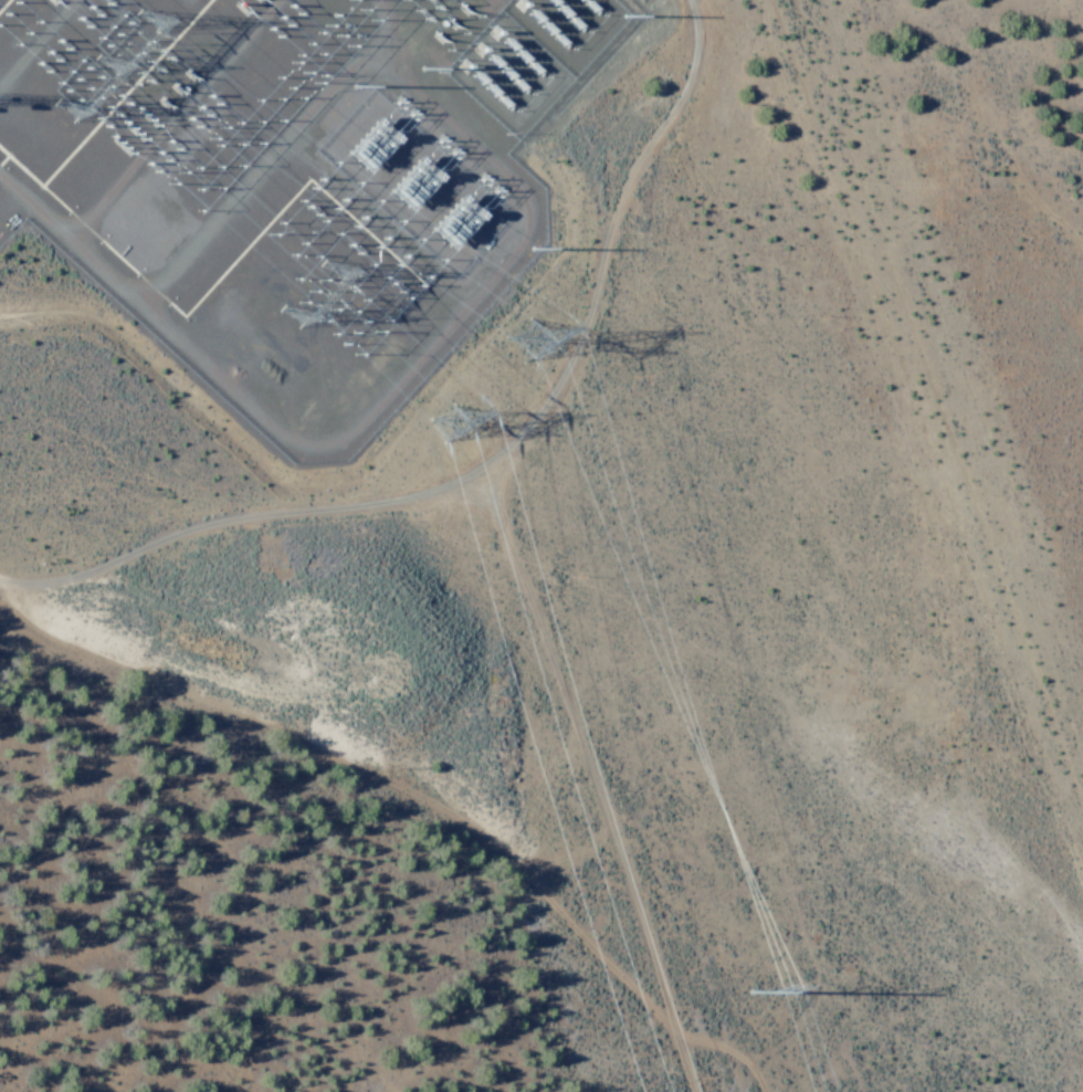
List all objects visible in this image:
power substation: (292, 181)
power tower: (302, 288)
power tower: (544, 346)
power tower: (467, 430)
road: (492, 458)
road: (588, 779)
power tower: (789, 991)

